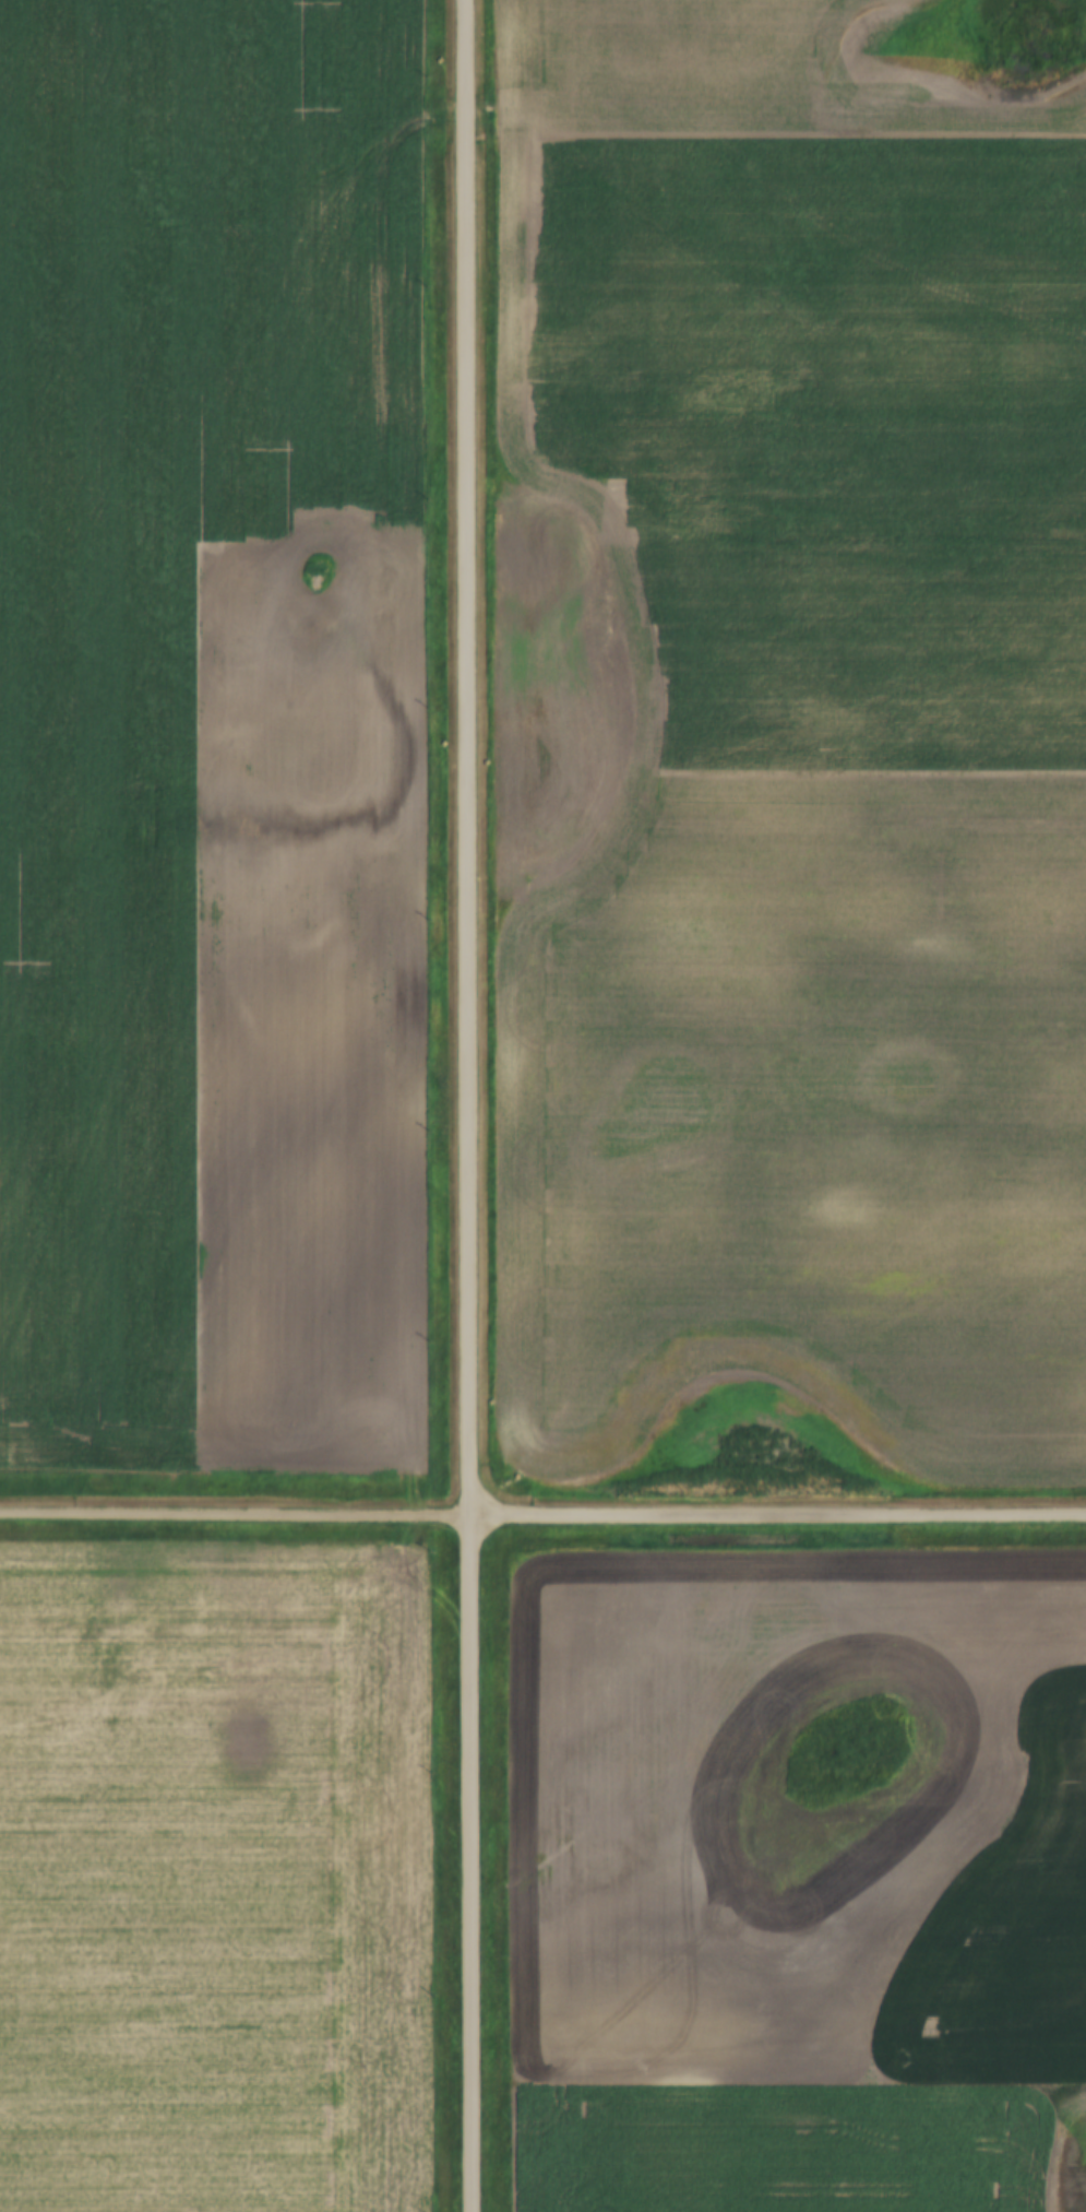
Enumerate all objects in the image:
road: (466, 1105)
road: (234, 1513)
road: (776, 1516)

